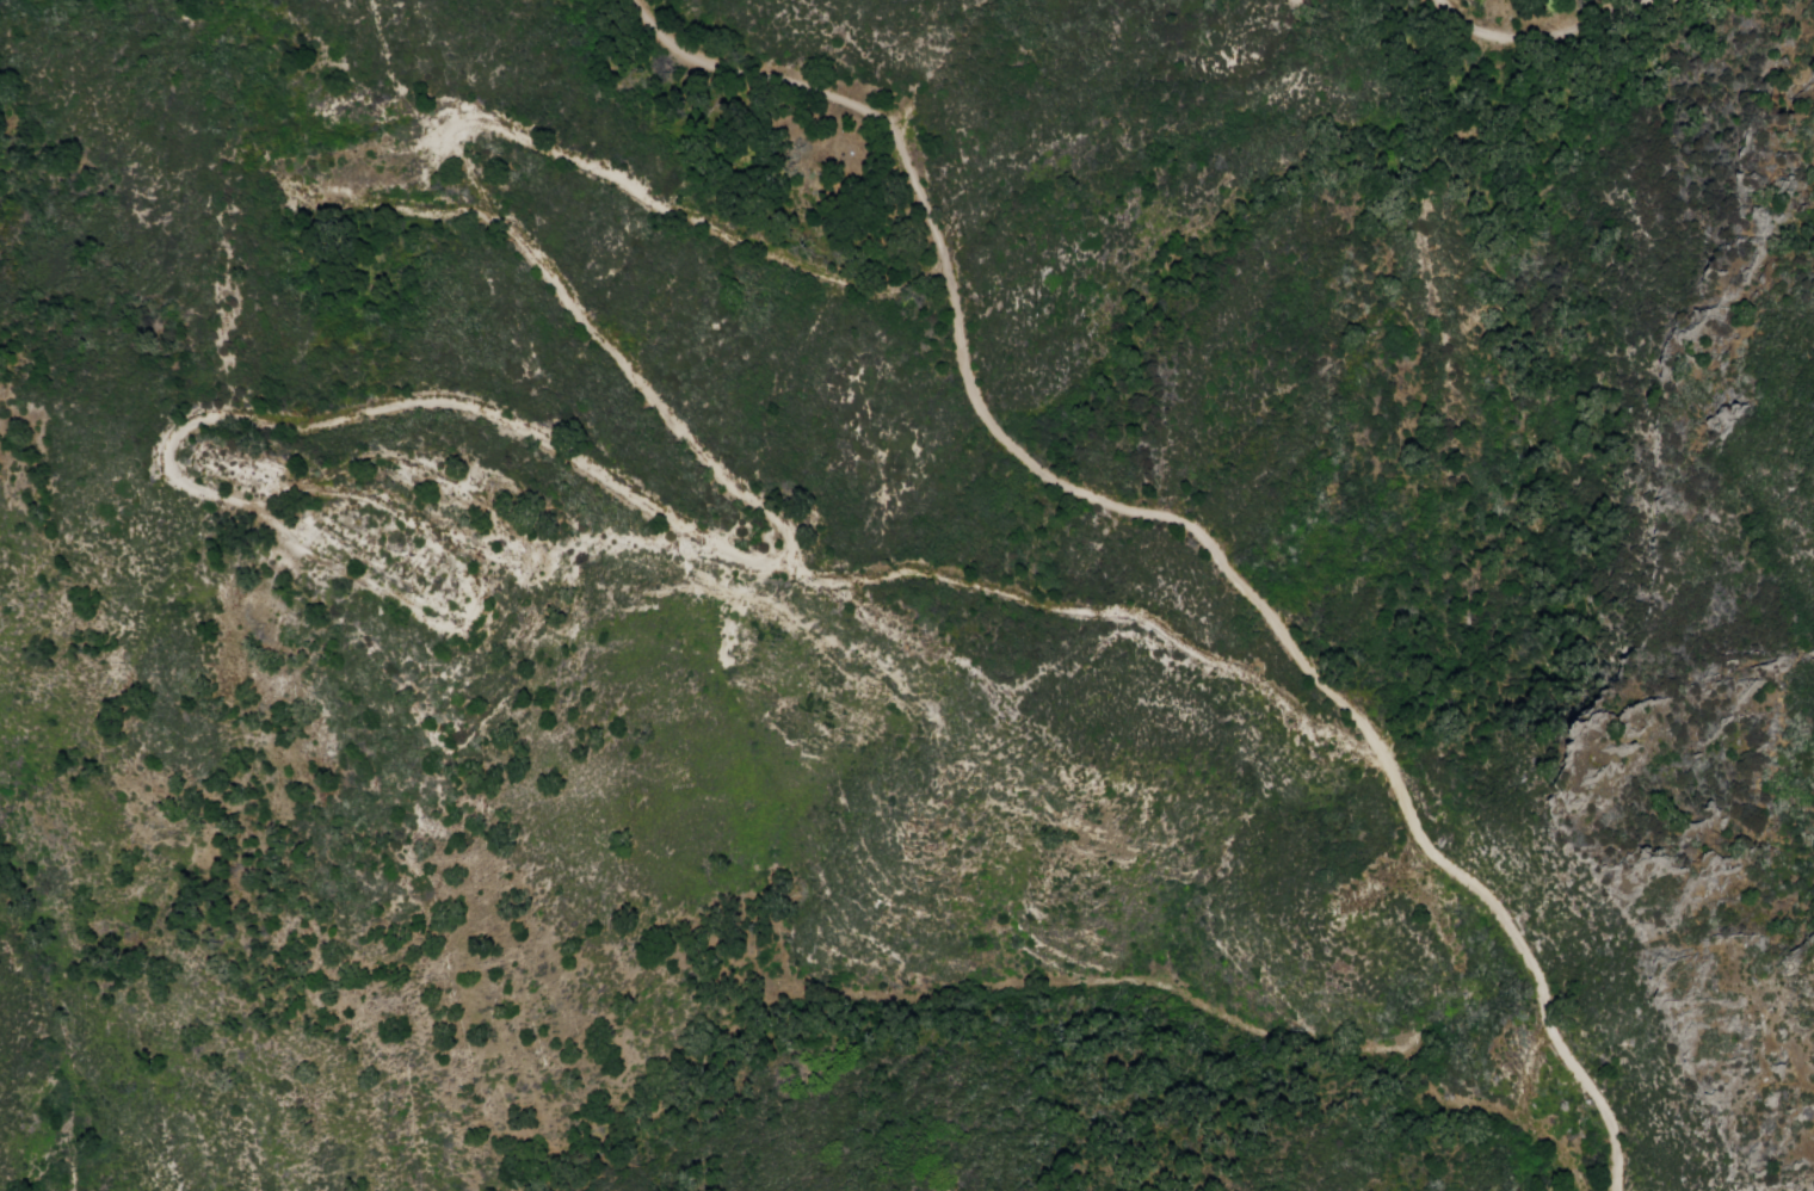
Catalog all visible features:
road: (1498, 21)
road: (1158, 513)

